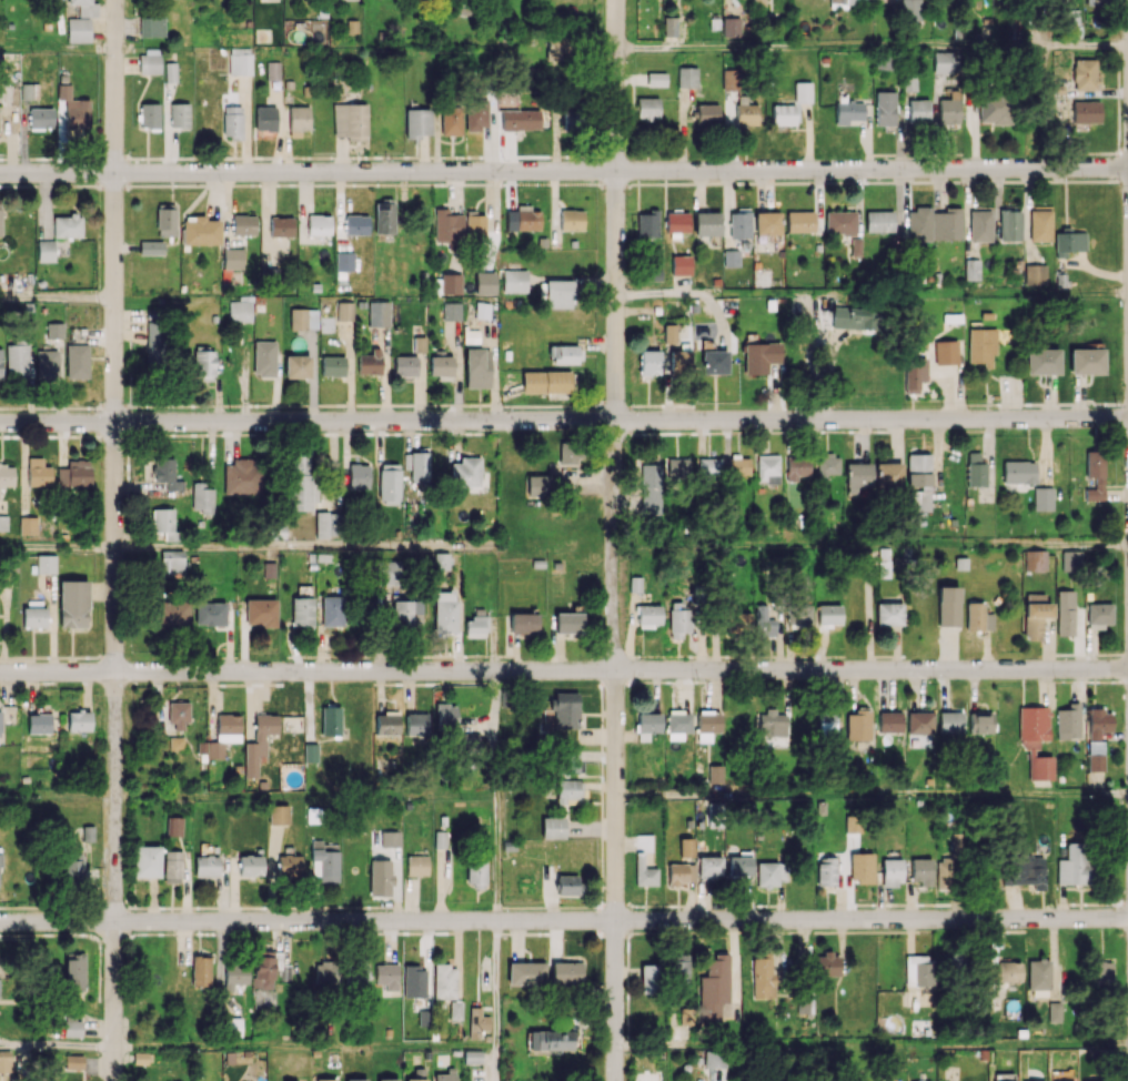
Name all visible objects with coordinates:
building: (1097, 0)
building: (847, 1)
building: (758, 2)
building: (456, 7)
building: (84, 8)
building: (910, 12)
building: (1072, 17)
building: (151, 26)
building: (669, 26)
building: (731, 27)
building: (78, 29)
road: (872, 47)
road: (57, 48)
building: (554, 48)
building: (149, 61)
building: (240, 61)
building: (883, 61)
building: (943, 62)
building: (273, 70)
building: (1085, 74)
building: (687, 77)
building: (656, 79)
building: (731, 79)
building: (909, 82)
building: (29, 91)
building: (803, 91)
building: (73, 108)
building: (647, 108)
building: (884, 108)
building: (949, 108)
building: (918, 110)
building: (995, 110)
building: (745, 111)
building: (848, 111)
building: (1086, 111)
building: (476, 113)
building: (707, 113)
building: (149, 114)
building: (783, 114)
building: (179, 115)
building: (41, 118)
building: (265, 118)
building: (521, 119)
building: (298, 120)
building: (451, 120)
building: (570, 120)
building: (232, 121)
building: (350, 121)
building: (417, 122)
road: (564, 170)
building: (384, 216)
building: (0, 218)
building: (523, 219)
building: (571, 219)
building: (165, 220)
building: (799, 221)
building: (879, 221)
building: (677, 222)
building: (840, 222)
building: (706, 223)
building: (739, 223)
building: (767, 223)
building: (919, 223)
building: (243, 224)
building: (319, 224)
building: (356, 224)
building: (474, 224)
building: (647, 224)
building: (946, 224)
building: (980, 224)
building: (1040, 224)
building: (67, 225)
building: (449, 225)
building: (1009, 225)
building: (281, 226)
building: (200, 230)
building: (1069, 242)
building: (151, 247)
building: (46, 251)
building: (233, 257)
building: (731, 257)
building: (344, 261)
building: (681, 264)
building: (971, 269)
building: (1035, 274)
building: (514, 281)
building: (451, 283)
building: (484, 283)
building: (558, 293)
road: (1013, 294)
road: (57, 297)
building: (482, 310)
building: (240, 311)
building: (344, 311)
building: (452, 311)
building: (379, 313)
building: (303, 319)
building: (54, 330)
building: (668, 333)
building: (154, 344)
building: (419, 344)
building: (980, 345)
building: (946, 352)
building: (565, 354)
building: (761, 356)
building: (263, 358)
building: (678, 360)
building: (17, 361)
building: (77, 361)
building: (1041, 361)
building: (1086, 361)
building: (0, 362)
building: (370, 362)
building: (714, 362)
building: (47, 363)
building: (648, 363)
building: (203, 365)
building: (333, 365)
building: (405, 365)
building: (296, 366)
building: (440, 366)
building: (477, 367)
building: (914, 374)
building: (545, 382)
road: (563, 420)
building: (568, 454)
building: (299, 463)
building: (827, 465)
building: (708, 466)
building: (737, 466)
building: (796, 467)
building: (417, 468)
building: (767, 468)
building: (676, 469)
building: (975, 469)
building: (38, 472)
building: (465, 472)
building: (1018, 472)
building: (74, 473)
building: (167, 473)
building: (649, 473)
building: (7, 474)
building: (888, 474)
building: (1095, 474)
building: (858, 475)
building: (357, 476)
building: (243, 477)
building: (919, 482)
building: (389, 483)
building: (538, 485)
building: (300, 493)
building: (1043, 498)
building: (202, 501)
building: (3, 522)
building: (165, 524)
building: (325, 524)
building: (28, 525)
road: (612, 539)
road: (114, 540)
road: (869, 542)
road: (303, 547)
road: (57, 548)
building: (1035, 559)
building: (1071, 559)
building: (172, 560)
building: (46, 564)
building: (441, 565)
building: (269, 569)
building: (385, 572)
building: (73, 603)
building: (947, 606)
building: (332, 610)
building: (260, 612)
building: (302, 612)
building: (445, 612)
building: (1065, 612)
building: (171, 613)
building: (210, 613)
building: (33, 614)
building: (828, 614)
building: (888, 614)
building: (406, 615)
building: (648, 615)
building: (798, 615)
building: (1099, 615)
building: (977, 617)
building: (678, 618)
building: (1035, 618)
building: (765, 619)
building: (737, 620)
building: (568, 622)
building: (523, 623)
building: (475, 626)
road: (563, 669)
road: (54, 680)
road: (26, 681)
building: (564, 709)
building: (0, 715)
building: (178, 716)
building: (445, 716)
building: (331, 719)
building: (78, 720)
building: (889, 721)
building: (949, 721)
building: (1068, 721)
building: (39, 723)
building: (708, 723)
building: (828, 723)
building: (919, 723)
building: (979, 723)
building: (386, 724)
building: (416, 724)
building: (772, 724)
building: (647, 725)
building: (858, 725)
building: (677, 726)
road: (741, 731)
building: (224, 734)
building: (1097, 736)
building: (1035, 740)
building: (259, 742)
building: (470, 742)
building: (311, 752)
building: (567, 762)
building: (715, 774)
building: (570, 791)
road: (928, 794)
road: (495, 795)
road: (672, 795)
building: (278, 814)
building: (174, 826)
building: (553, 827)
building: (390, 838)
building: (686, 847)
building: (638, 859)
building: (324, 860)
building: (145, 861)
building: (741, 863)
building: (172, 865)
building: (250, 865)
building: (289, 865)
building: (416, 865)
building: (1074, 865)
building: (205, 866)
building: (72, 867)
building: (709, 867)
building: (862, 867)
building: (921, 870)
building: (1024, 870)
building: (828, 871)
building: (892, 871)
building: (769, 872)
building: (475, 873)
building: (677, 873)
building: (946, 875)
building: (380, 877)
building: (568, 885)
road: (16, 907)
road: (563, 919)
road: (456, 930)
road: (244, 931)
road: (412, 932)
road: (187, 933)
road: (522, 933)
road: (27, 934)
road: (63, 934)
road: (82, 934)
building: (827, 963)
building: (74, 969)
road: (99, 970)
building: (200, 970)
building: (326, 971)
building: (1009, 971)
building: (1100, 971)
building: (356, 972)
building: (565, 972)
building: (678, 972)
building: (919, 972)
building: (525, 973)
building: (1038, 973)
building: (235, 974)
building: (386, 974)
building: (763, 977)
building: (648, 979)
building: (414, 981)
building: (444, 981)
road: (496, 982)
building: (714, 988)
road: (101, 1001)
building: (805, 1001)
building: (456, 1010)
building: (1055, 1011)
building: (477, 1022)
building: (231, 1027)
building: (72, 1028)
building: (551, 1039)
road: (872, 1044)
road: (57, 1045)
road: (304, 1045)
building: (141, 1058)
building: (714, 1058)
building: (4, 1061)
building: (73, 1061)
road: (496, 1063)
building: (445, 1077)
building: (356, 1079)
building: (326, 1080)
building: (387, 1080)
building: (416, 1080)

